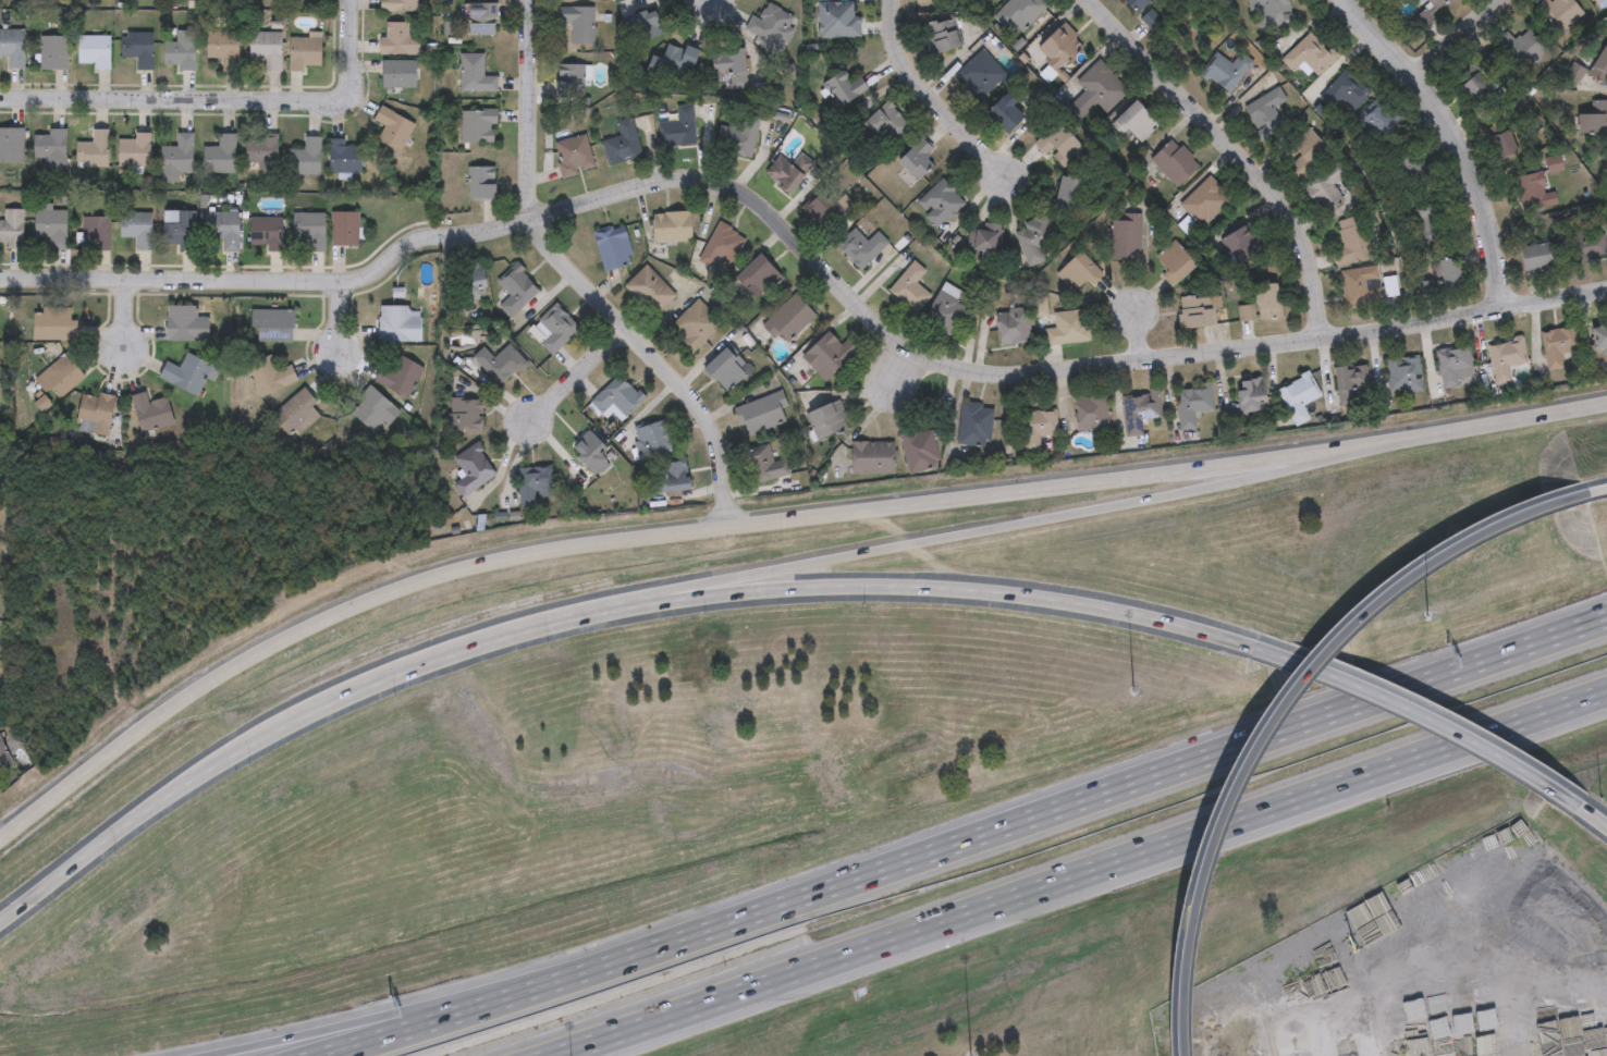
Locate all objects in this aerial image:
building: (994, 0)
building: (1592, 1)
road: (711, 3)
building: (1138, 4)
building: (397, 5)
building: (1276, 10)
building: (1426, 12)
building: (1018, 13)
building: (1558, 13)
building: (483, 17)
building: (1150, 17)
building: (837, 19)
building: (578, 22)
building: (645, 23)
building: (769, 24)
building: (941, 34)
building: (395, 38)
road: (1456, 39)
building: (1060, 46)
building: (12, 47)
building: (223, 47)
building: (266, 47)
building: (138, 48)
building: (1519, 48)
building: (93, 50)
building: (180, 50)
building: (304, 51)
building: (51, 52)
building: (1310, 54)
building: (673, 63)
building: (728, 63)
building: (1591, 67)
building: (1227, 70)
building: (475, 73)
building: (980, 73)
building: (398, 74)
building: (571, 78)
building: (1473, 81)
building: (845, 87)
building: (1097, 87)
building: (1346, 90)
road: (933, 96)
road: (219, 100)
building: (1267, 110)
building: (1007, 113)
building: (1591, 119)
building: (1136, 120)
building: (887, 121)
building: (1379, 121)
building: (477, 124)
building: (678, 126)
building: (392, 127)
building: (738, 134)
building: (1505, 134)
building: (1057, 140)
road: (1457, 140)
building: (622, 142)
building: (11, 144)
building: (50, 147)
building: (93, 149)
road: (1235, 149)
building: (134, 150)
building: (1309, 150)
building: (261, 152)
building: (220, 155)
building: (573, 155)
building: (176, 157)
building: (306, 157)
building: (917, 158)
building: (345, 159)
building: (1176, 161)
building: (1410, 165)
building: (1555, 165)
building: (788, 171)
road: (530, 181)
building: (481, 182)
building: (1326, 186)
building: (1535, 191)
building: (1069, 196)
building: (1206, 200)
building: (940, 201)
building: (824, 206)
building: (1423, 213)
building: (50, 225)
building: (672, 225)
building: (137, 228)
building: (343, 228)
building: (11, 229)
building: (223, 229)
building: (179, 230)
building: (309, 230)
building: (95, 233)
building: (266, 234)
building: (985, 237)
building: (1125, 237)
building: (1035, 238)
building: (1352, 241)
building: (1243, 244)
building: (612, 246)
building: (721, 247)
building: (860, 247)
building: (1588, 248)
road: (803, 251)
building: (1539, 255)
building: (1176, 261)
building: (1080, 271)
building: (1453, 272)
building: (761, 273)
building: (471, 279)
building: (1357, 284)
building: (908, 285)
building: (1390, 285)
building: (516, 288)
building: (649, 291)
building: (1269, 298)
building: (1198, 310)
road: (336, 311)
building: (945, 311)
building: (1247, 311)
road: (126, 315)
building: (789, 318)
building: (56, 323)
building: (185, 323)
building: (398, 323)
building: (695, 323)
building: (274, 326)
building: (1013, 326)
building: (1068, 327)
building: (555, 328)
road: (1138, 333)
building: (1597, 334)
building: (1555, 345)
building: (827, 354)
building: (1507, 357)
building: (500, 363)
building: (1455, 365)
building: (726, 367)
road: (901, 370)
road: (575, 372)
building: (1404, 373)
building: (187, 374)
building: (269, 374)
building: (398, 376)
building: (60, 377)
building: (1353, 384)
building: (1253, 394)
building: (1299, 396)
building: (615, 397)
building: (1193, 403)
building: (372, 407)
building: (1139, 409)
building: (95, 412)
building: (150, 412)
building: (295, 413)
building: (466, 413)
building: (760, 413)
building: (1092, 413)
road: (700, 414)
building: (827, 419)
building: (974, 423)
building: (1038, 427)
building: (651, 439)
building: (919, 449)
building: (590, 453)
building: (872, 456)
building: (764, 464)
building: (471, 468)
building: (671, 478)
building: (532, 483)
road: (1588, 492)
road: (1078, 512)
road: (768, 518)
road: (579, 615)
road: (1278, 709)
road: (1410, 711)
building: (4, 760)
road: (1594, 812)
road: (1026, 820)
road: (1079, 874)
road: (1568, 935)
road: (322, 1031)
road: (382, 1037)

